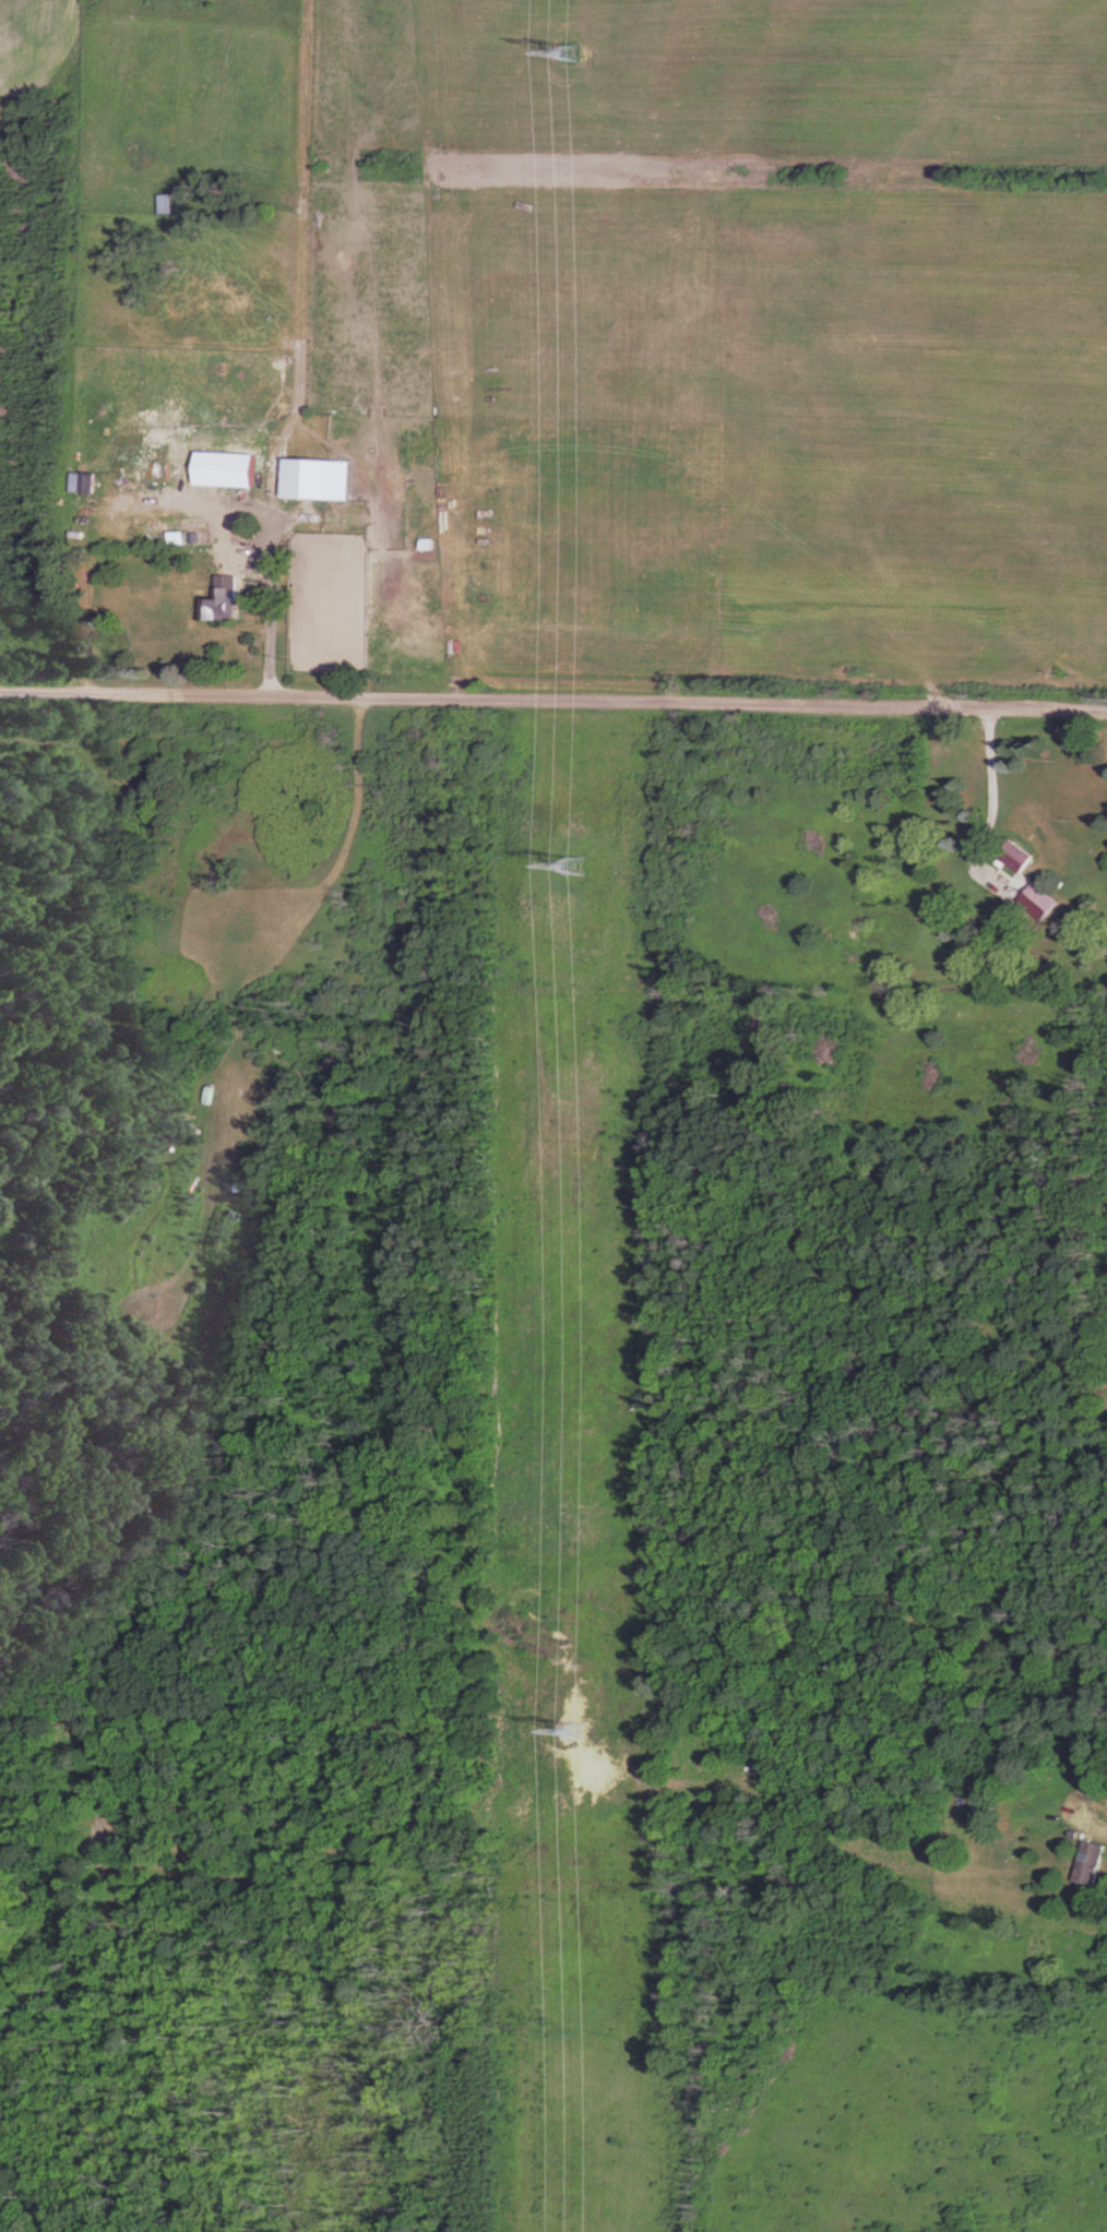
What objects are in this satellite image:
power tower: (572, 56)
building: (168, 203)
building: (155, 461)
building: (320, 479)
building: (83, 482)
road: (252, 536)
building: (223, 605)
road: (553, 697)
road: (985, 789)
building: (1019, 857)
power tower: (575, 866)
building: (1040, 903)
power tower: (590, 1734)
building: (1081, 1769)
road: (1090, 1818)
building: (1093, 1864)

